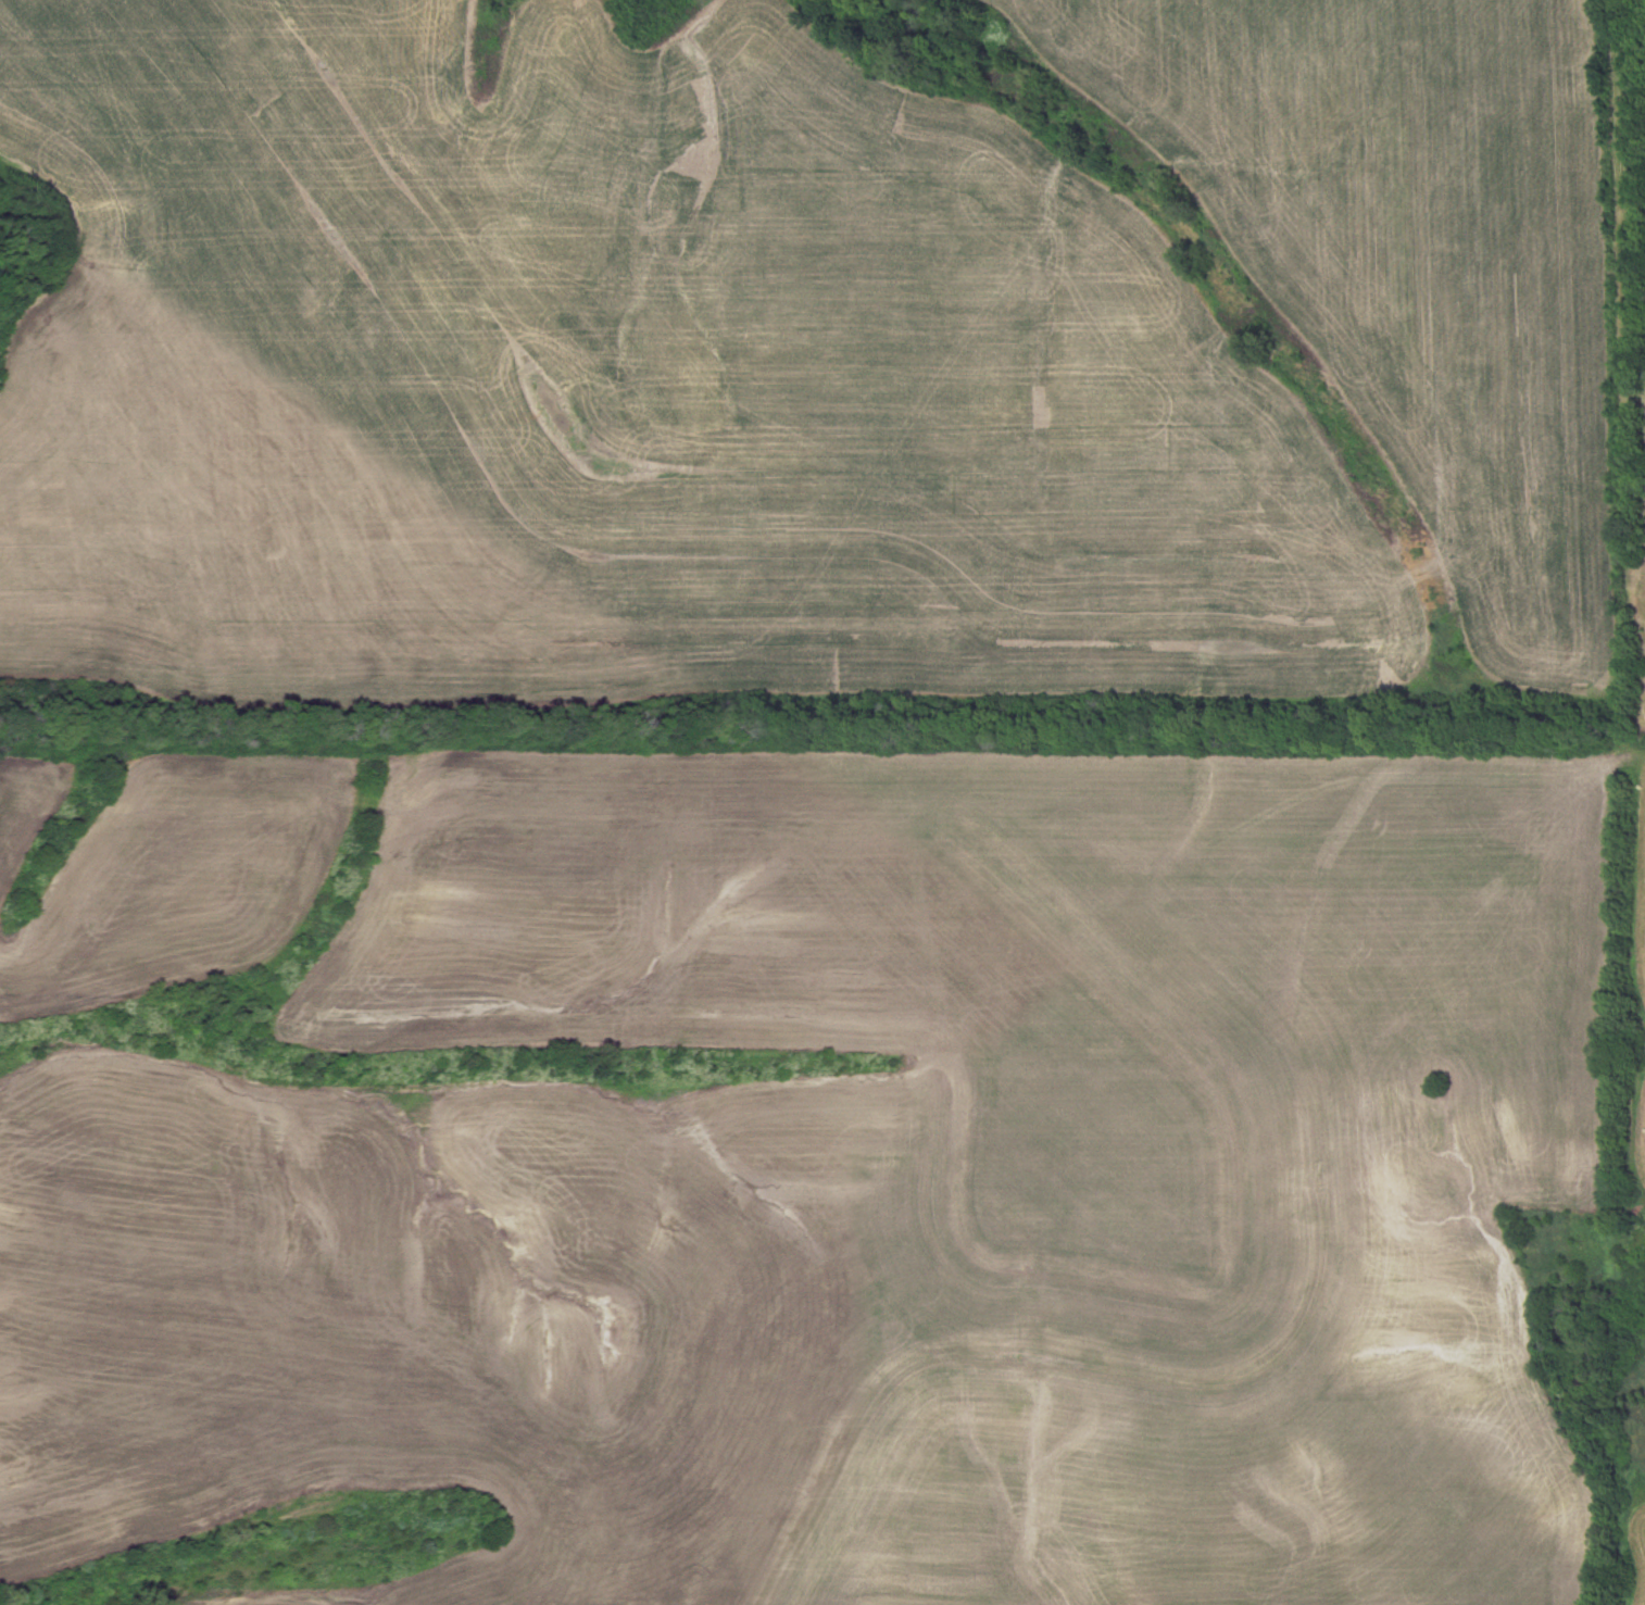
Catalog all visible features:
building: (1636, 1233)

